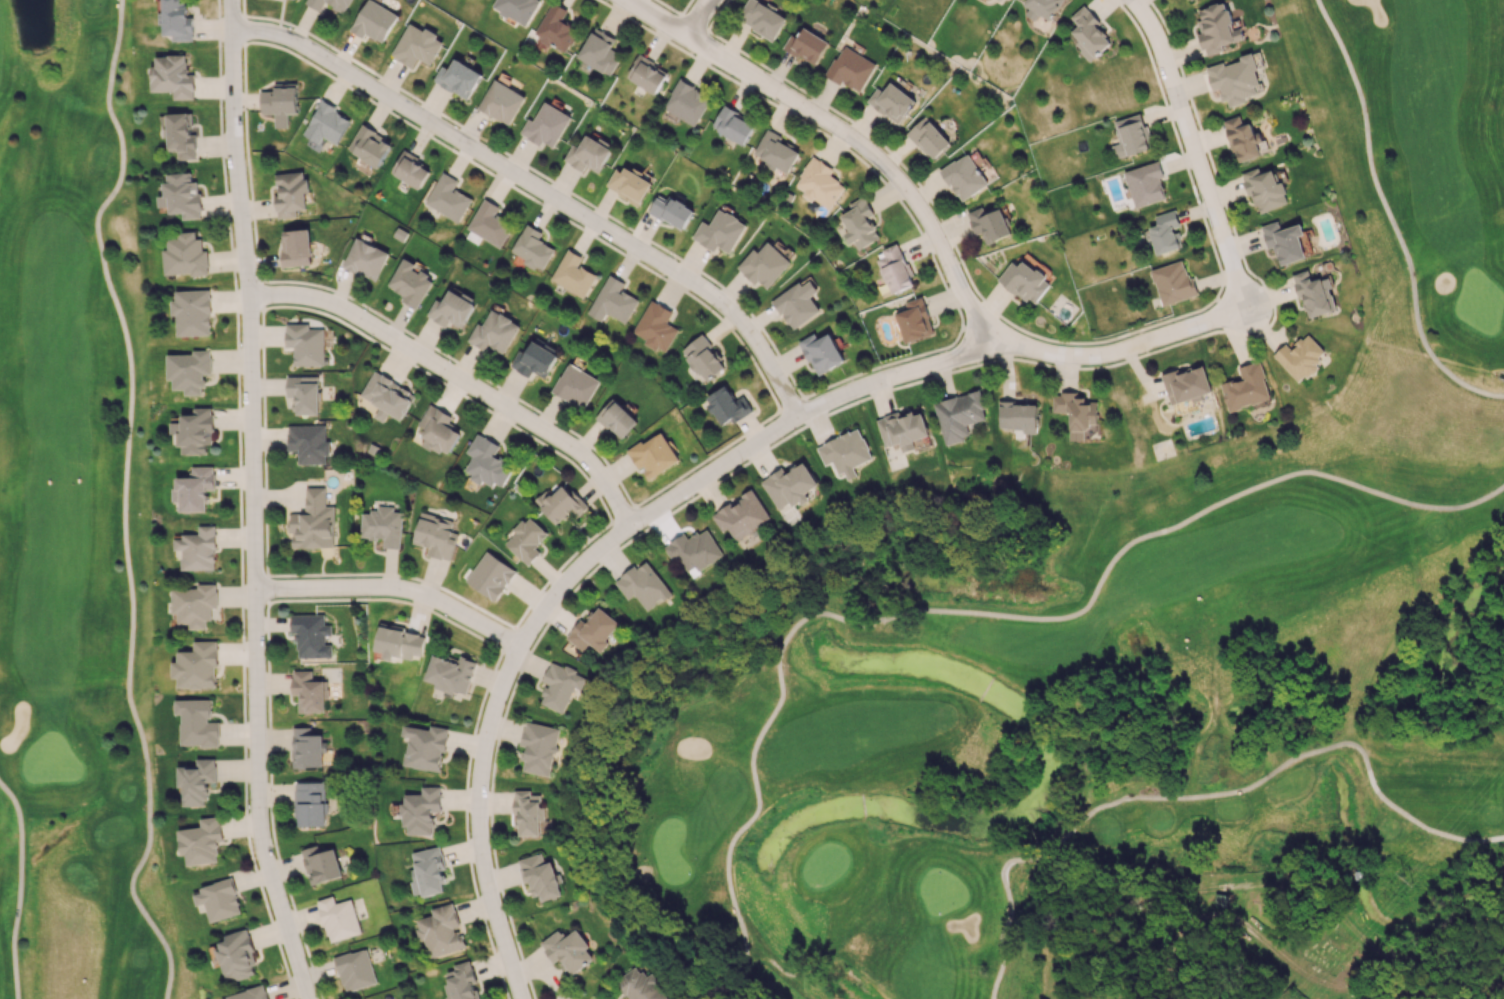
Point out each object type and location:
building: (330, 4)
building: (1042, 8)
building: (516, 9)
road: (698, 17)
building: (761, 18)
building: (177, 20)
building: (374, 21)
building: (556, 28)
building: (1218, 28)
building: (1088, 33)
building: (417, 45)
building: (806, 46)
building: (599, 50)
building: (850, 69)
building: (646, 74)
building: (172, 76)
building: (458, 78)
building: (1235, 80)
building: (501, 102)
building: (686, 102)
building: (892, 102)
building: (280, 103)
building: (325, 123)
building: (733, 124)
building: (546, 125)
building: (180, 135)
road: (848, 135)
building: (1131, 135)
building: (928, 138)
building: (1242, 139)
building: (369, 146)
road: (1197, 149)
building: (776, 151)
building: (588, 154)
building: (410, 169)
building: (963, 176)
building: (819, 183)
building: (1145, 183)
building: (628, 185)
building: (1265, 190)
road: (540, 191)
building: (290, 193)
building: (181, 195)
building: (448, 197)
building: (672, 211)
road: (1390, 218)
building: (489, 223)
building: (989, 223)
building: (859, 224)
building: (720, 231)
building: (1164, 232)
building: (1284, 241)
building: (296, 247)
building: (532, 248)
building: (185, 255)
building: (365, 259)
building: (764, 264)
building: (895, 268)
building: (573, 274)
building: (1025, 281)
building: (410, 282)
building: (1173, 282)
building: (1314, 294)
building: (613, 301)
building: (797, 303)
building: (451, 309)
road: (1249, 311)
building: (191, 312)
building: (914, 320)
building: (656, 326)
building: (494, 332)
building: (305, 343)
building: (822, 352)
building: (1300, 357)
building: (703, 358)
building: (535, 360)
building: (189, 370)
road: (457, 383)
building: (1187, 384)
building: (575, 385)
building: (1246, 387)
building: (304, 393)
building: (387, 396)
building: (727, 405)
building: (1076, 412)
building: (959, 415)
building: (1018, 416)
building: (616, 418)
building: (902, 429)
building: (438, 430)
building: (194, 431)
building: (308, 443)
building: (845, 452)
building: (653, 454)
building: (487, 462)
building: (790, 485)
building: (194, 488)
road: (688, 489)
road: (126, 500)
road: (252, 502)
building: (560, 503)
building: (741, 515)
building: (313, 522)
park: (75, 523)
building: (382, 526)
building: (435, 535)
building: (526, 540)
building: (197, 549)
building: (693, 550)
building: (491, 576)
building: (643, 585)
road: (393, 595)
building: (195, 604)
road: (976, 611)
park: (1115, 629)
building: (594, 630)
building: (311, 635)
building: (398, 641)
building: (196, 666)
building: (450, 673)
building: (561, 686)
building: (308, 692)
building: (197, 722)
building: (425, 747)
building: (540, 747)
building: (307, 748)
building: (196, 781)
road: (1201, 795)
building: (309, 803)
building: (421, 810)
building: (529, 812)
building: (201, 841)
building: (321, 864)
building: (428, 872)
building: (1357, 874)
building: (541, 876)
power tower: (1408, 881)
road: (1269, 885)
road: (21, 887)
building: (218, 899)
building: (338, 918)
road: (1237, 919)
building: (441, 930)
theme park: (1286, 937)
building: (568, 949)
building: (236, 955)
building: (355, 970)
building: (461, 982)
building: (641, 985)
road: (1429, 992)
building: (250, 993)

